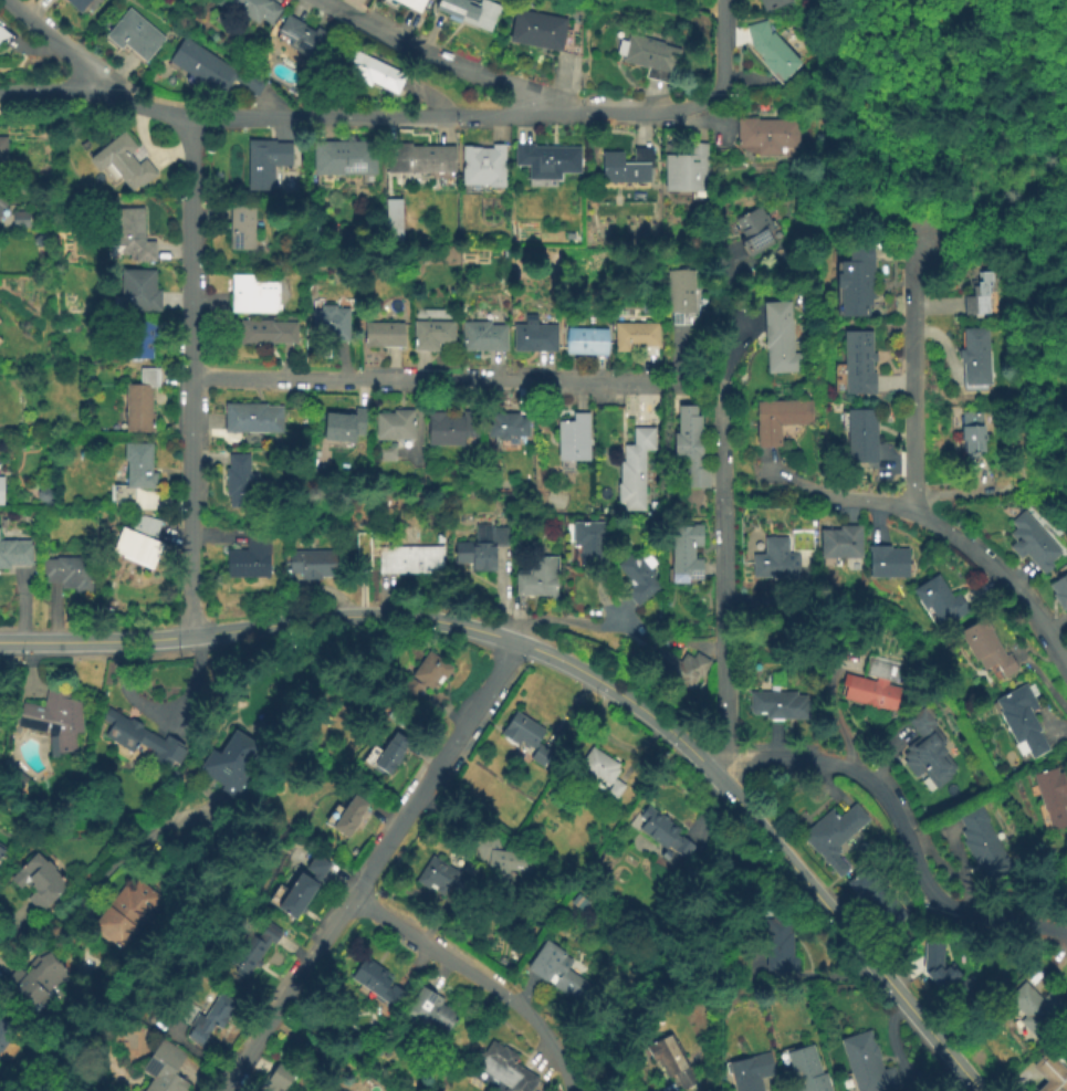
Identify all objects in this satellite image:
building: (412, 3)
building: (79, 4)
building: (773, 4)
building: (255, 8)
building: (471, 12)
building: (537, 30)
building: (3, 33)
building: (134, 34)
building: (302, 38)
road: (51, 39)
road: (721, 48)
building: (772, 51)
road: (436, 55)
building: (649, 56)
building: (211, 69)
building: (369, 70)
road: (48, 90)
road: (431, 98)
road: (137, 103)
road: (452, 117)
building: (767, 134)
building: (2, 149)
building: (343, 158)
building: (420, 159)
building: (546, 160)
building: (122, 162)
building: (264, 162)
building: (482, 167)
building: (627, 168)
building: (688, 172)
building: (2, 197)
building: (19, 219)
building: (240, 228)
building: (754, 232)
building: (132, 235)
building: (39, 240)
road: (719, 279)
building: (855, 281)
building: (138, 291)
building: (680, 292)
building: (979, 295)
building: (251, 296)
building: (329, 329)
road: (736, 331)
building: (265, 334)
building: (385, 335)
building: (431, 335)
building: (483, 337)
building: (534, 337)
building: (632, 337)
building: (778, 340)
building: (140, 342)
building: (586, 343)
building: (973, 357)
road: (679, 360)
building: (857, 361)
road: (189, 376)
road: (913, 376)
road: (432, 380)
road: (694, 394)
building: (140, 402)
building: (252, 419)
building: (778, 419)
road: (202, 422)
building: (396, 426)
building: (346, 427)
building: (506, 428)
building: (451, 430)
building: (972, 433)
building: (859, 436)
building: (571, 437)
building: (689, 449)
road: (898, 450)
building: (387, 452)
building: (634, 471)
building: (134, 474)
building: (239, 482)
building: (0, 492)
road: (201, 536)
road: (721, 539)
building: (590, 542)
building: (840, 543)
road: (964, 544)
building: (1032, 544)
building: (137, 545)
building: (482, 548)
building: (363, 554)
building: (684, 554)
building: (15, 556)
building: (251, 556)
building: (409, 560)
building: (774, 560)
building: (888, 563)
building: (316, 565)
building: (67, 575)
building: (637, 579)
building: (532, 584)
building: (1059, 592)
building: (938, 599)
road: (602, 605)
road: (567, 625)
road: (697, 644)
building: (986, 650)
road: (575, 669)
building: (680, 669)
building: (425, 675)
building: (875, 686)
building: (780, 706)
building: (53, 716)
building: (1021, 722)
building: (142, 738)
building: (527, 739)
building: (927, 752)
building: (386, 754)
building: (229, 762)
building: (14, 772)
building: (600, 772)
road: (822, 781)
building: (1052, 797)
building: (346, 816)
road: (438, 820)
road: (898, 826)
building: (661, 836)
building: (833, 836)
building: (982, 843)
building: (1, 851)
building: (505, 861)
road: (373, 867)
road: (105, 870)
building: (441, 880)
building: (38, 881)
building: (304, 888)
building: (584, 900)
building: (875, 900)
building: (123, 911)
building: (778, 946)
building: (252, 950)
building: (558, 972)
building: (940, 972)
road: (901, 973)
building: (32, 979)
road: (481, 979)
building: (376, 980)
building: (430, 1009)
building: (1037, 1010)
building: (210, 1019)
building: (6, 1030)
building: (666, 1056)
building: (868, 1067)
building: (160, 1068)
building: (502, 1069)
building: (750, 1072)
building: (805, 1072)
building: (1050, 1073)
building: (275, 1079)

